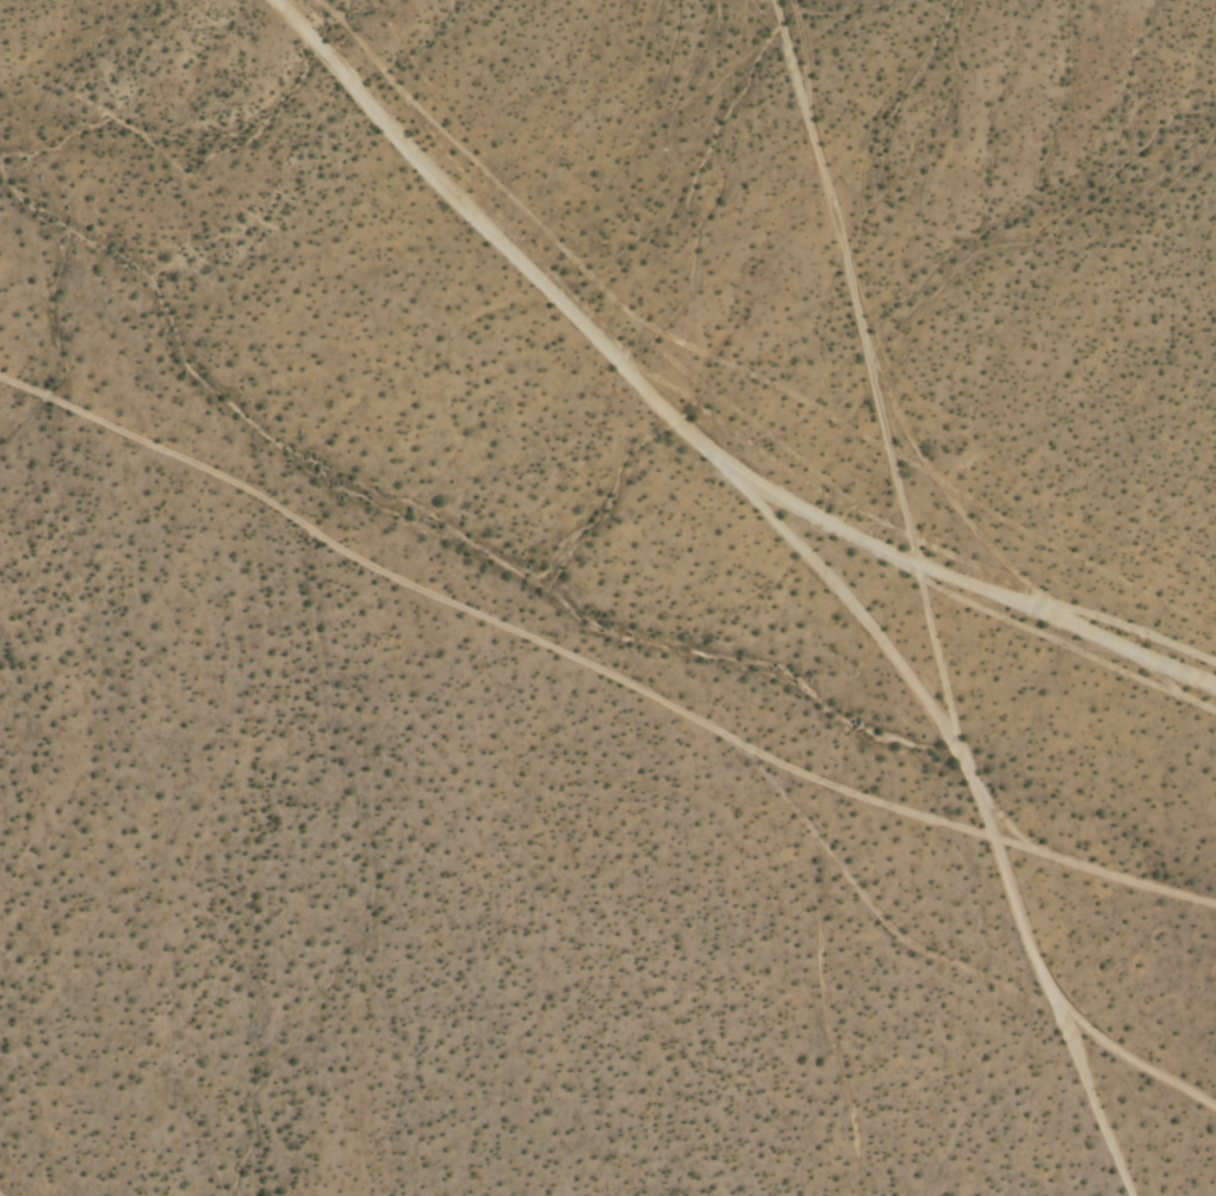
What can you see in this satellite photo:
road: (857, 283)
road: (684, 428)

